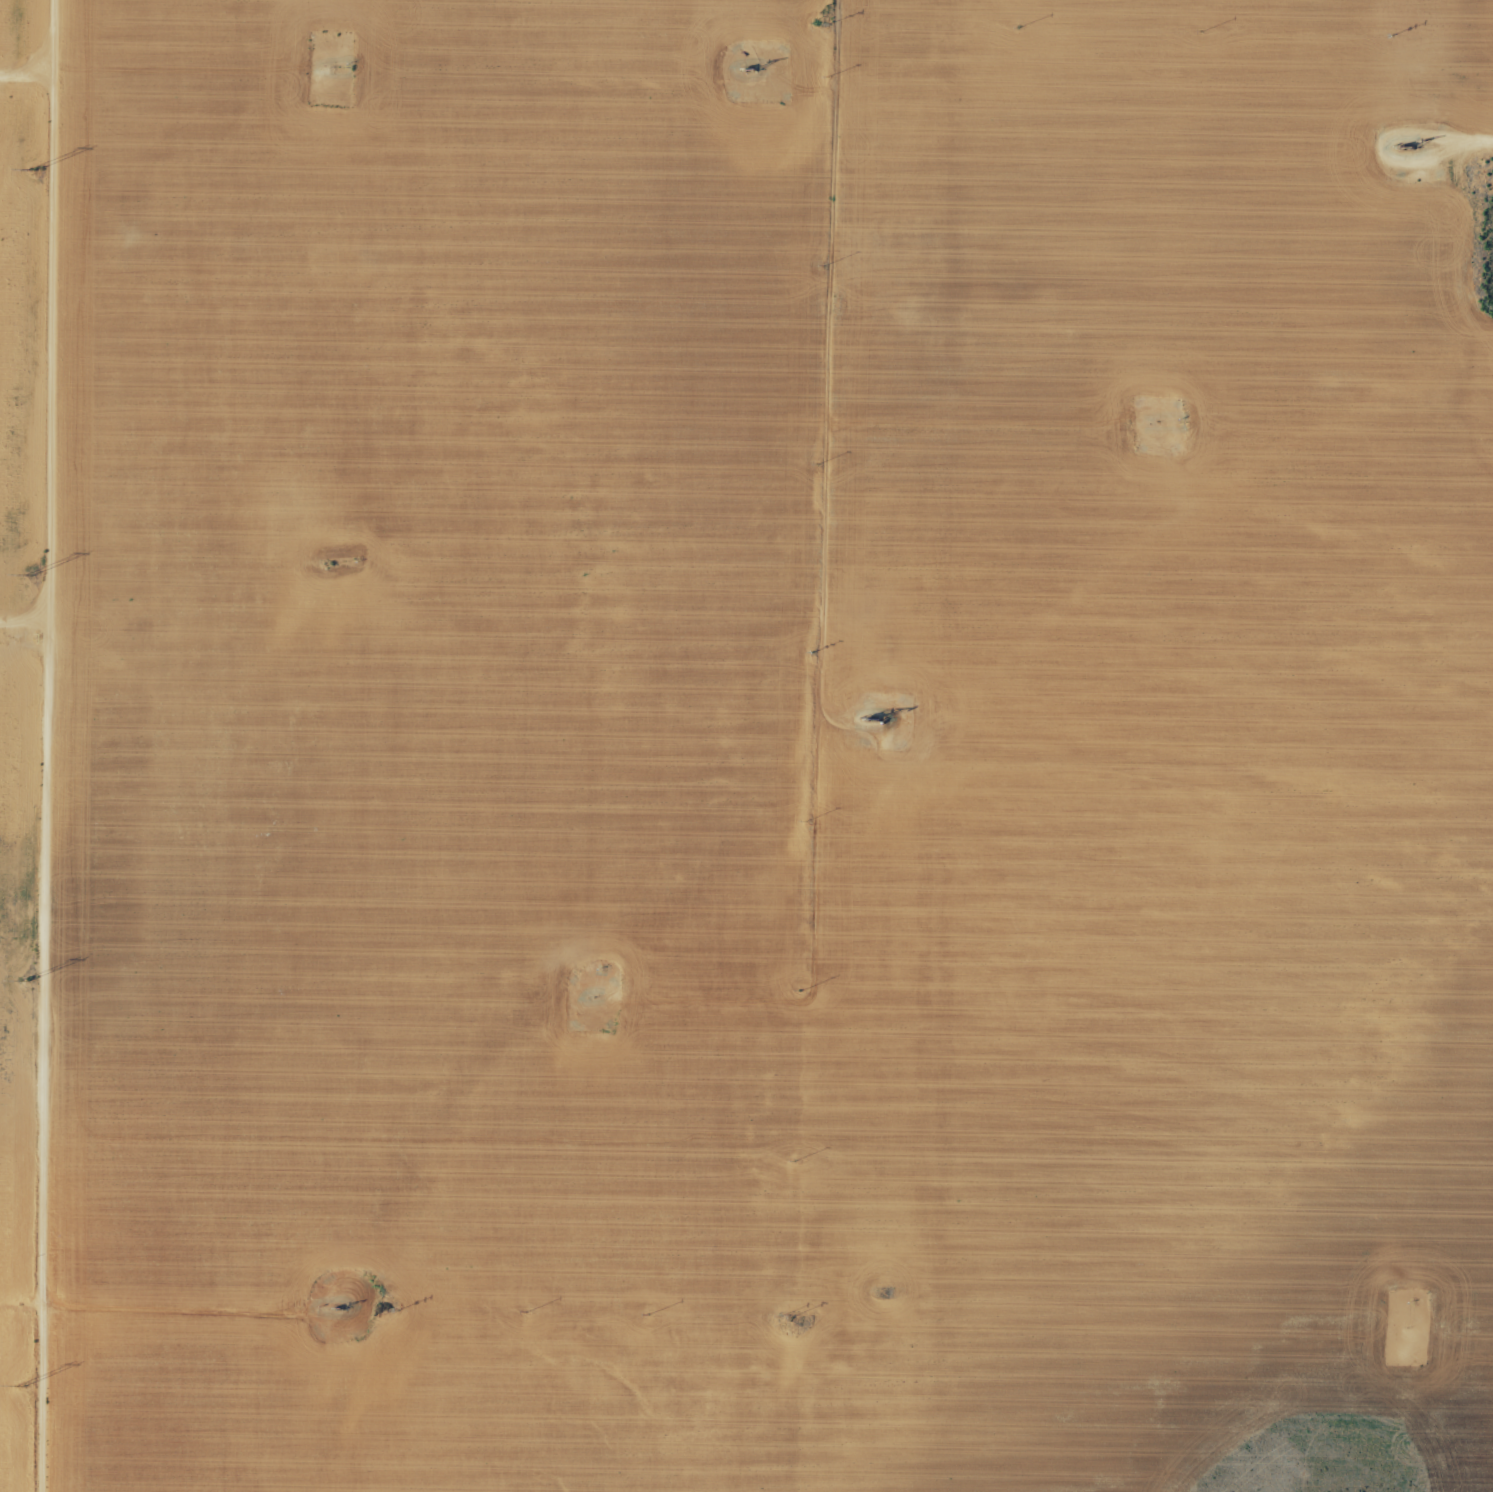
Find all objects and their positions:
petroleum well: (746, 72)
petroleum well: (1404, 147)
road: (828, 407)
road: (25, 608)
petroleum well: (871, 719)
road: (48, 745)
petroleum well: (343, 1309)

